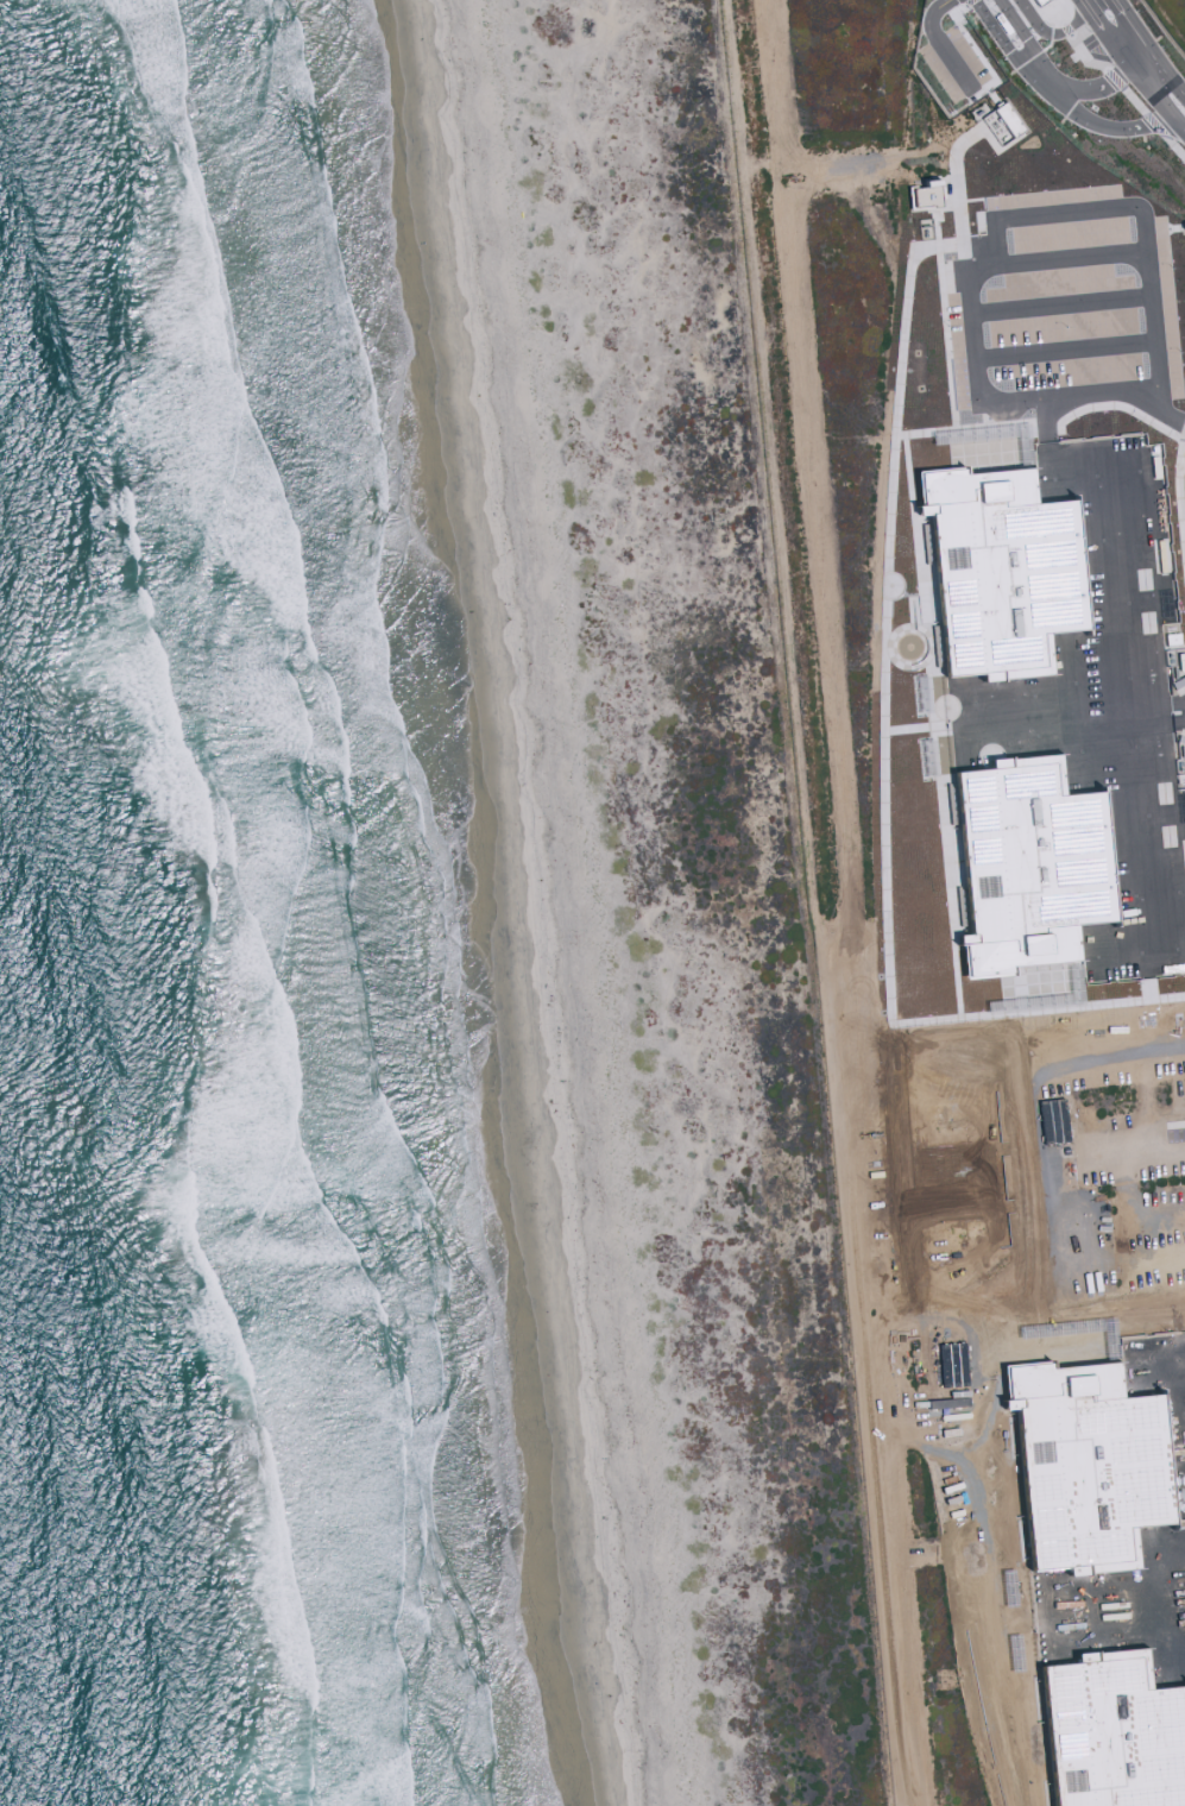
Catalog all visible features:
building: (1032, 1)
road: (1153, 27)
road: (1011, 49)
road: (1155, 76)
road: (1103, 84)
road: (1171, 101)
road: (1168, 108)
building: (1000, 118)
road: (1183, 128)
road: (1110, 131)
road: (994, 920)
road: (1133, 1145)
building: (1120, 1173)
building: (1122, 1228)
road: (868, 1390)
road: (1034, 1542)

